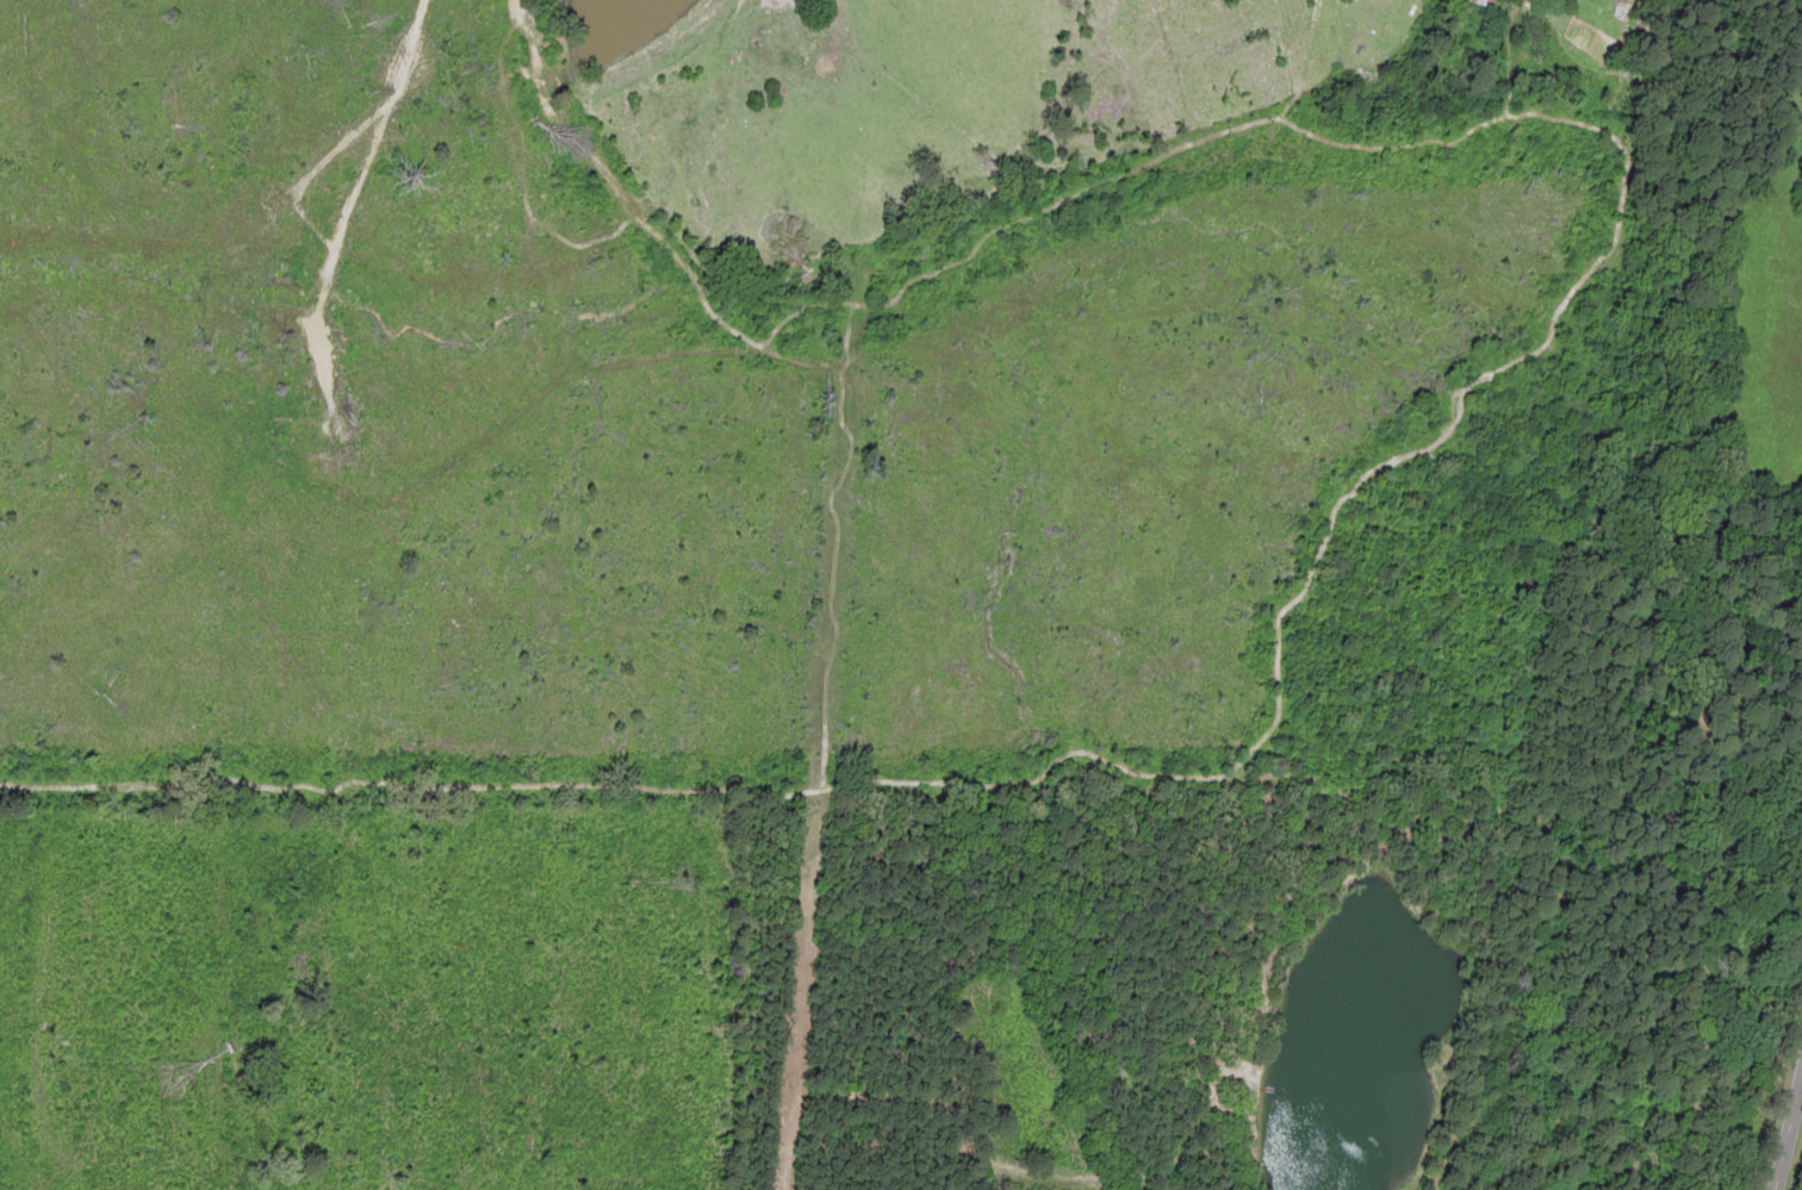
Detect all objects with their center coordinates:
road: (1783, 1114)

